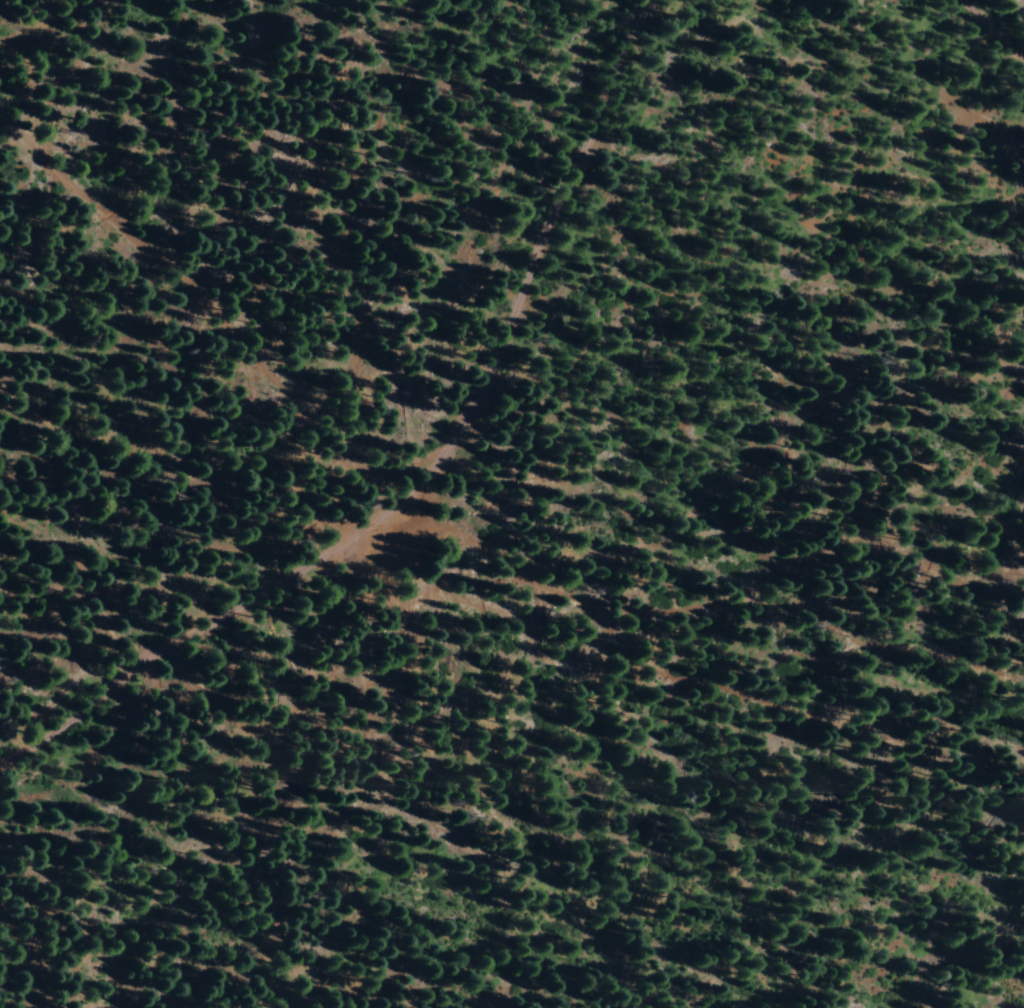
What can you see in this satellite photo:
road: (51, 16)
road: (990, 33)
road: (434, 468)
road: (693, 659)

